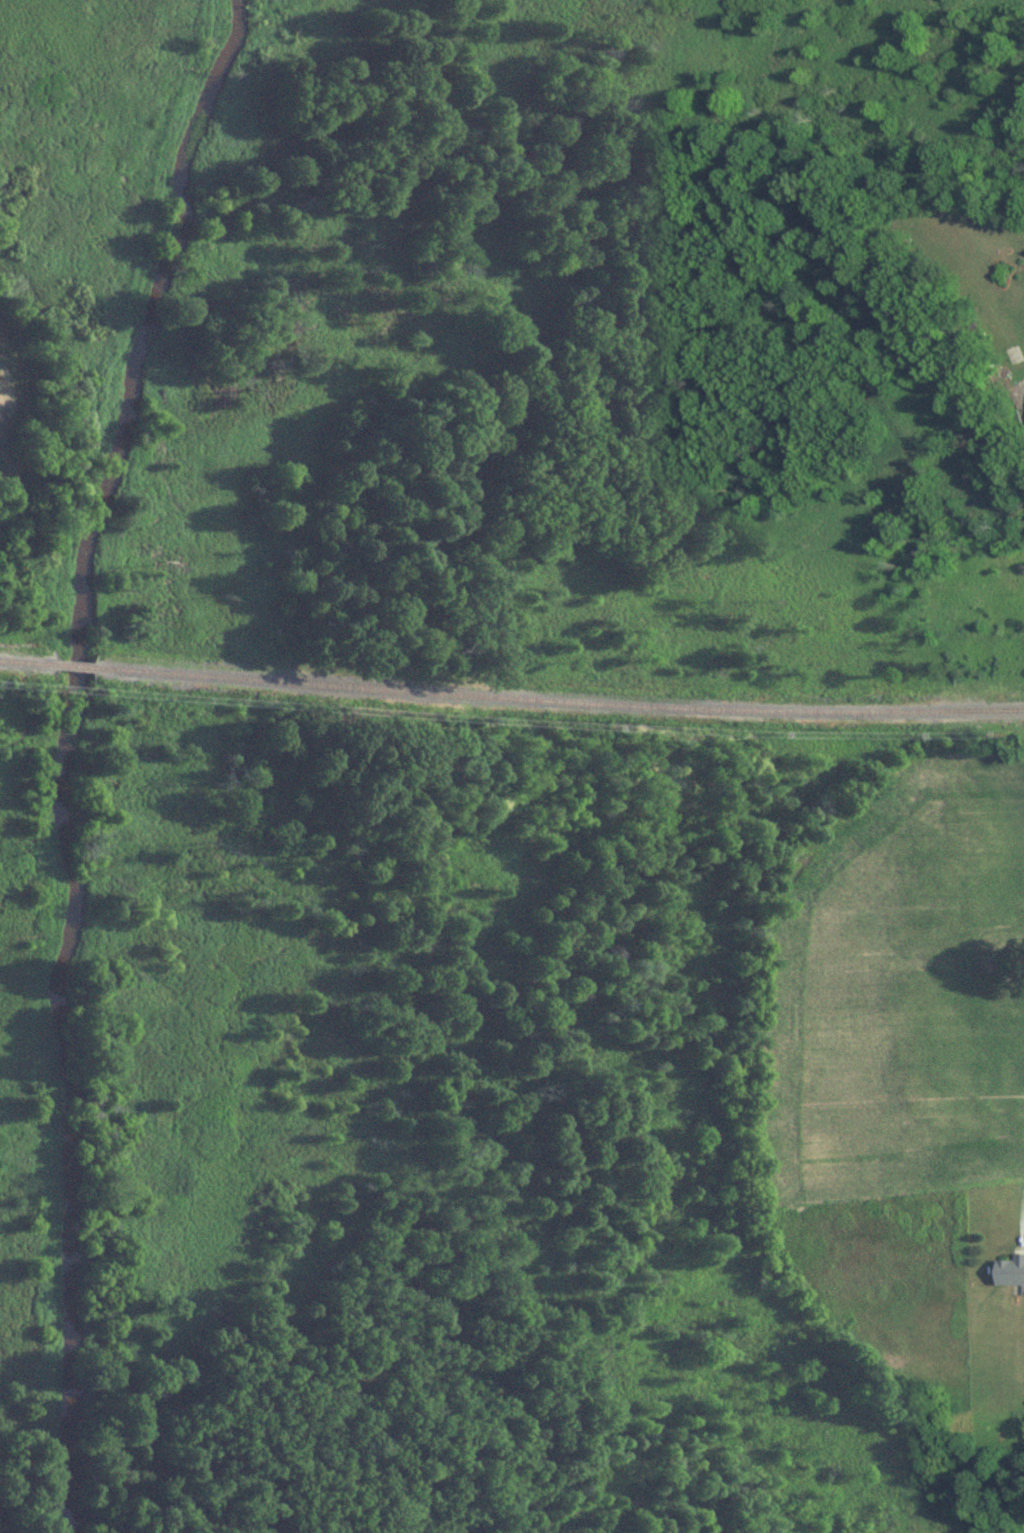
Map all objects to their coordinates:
railway: (26, 662)
railway: (71, 666)
railway: (556, 699)
building: (1013, 1271)

